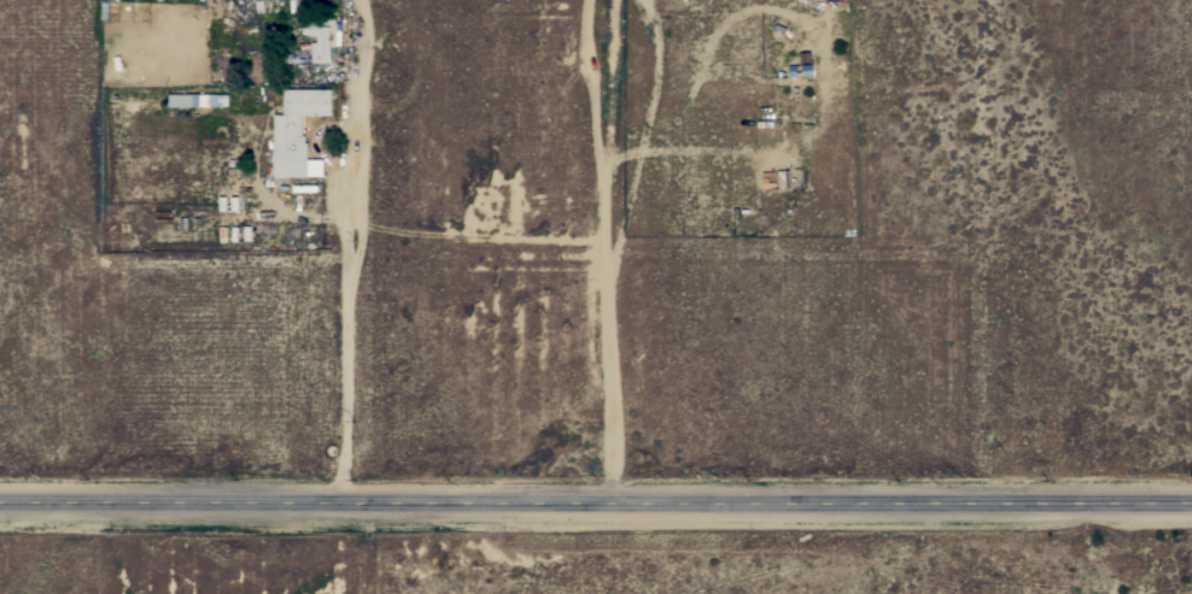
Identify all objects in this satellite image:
building: (292, 5)
building: (321, 37)
building: (218, 99)
building: (297, 131)
road: (343, 251)
road: (601, 252)
road: (596, 505)

